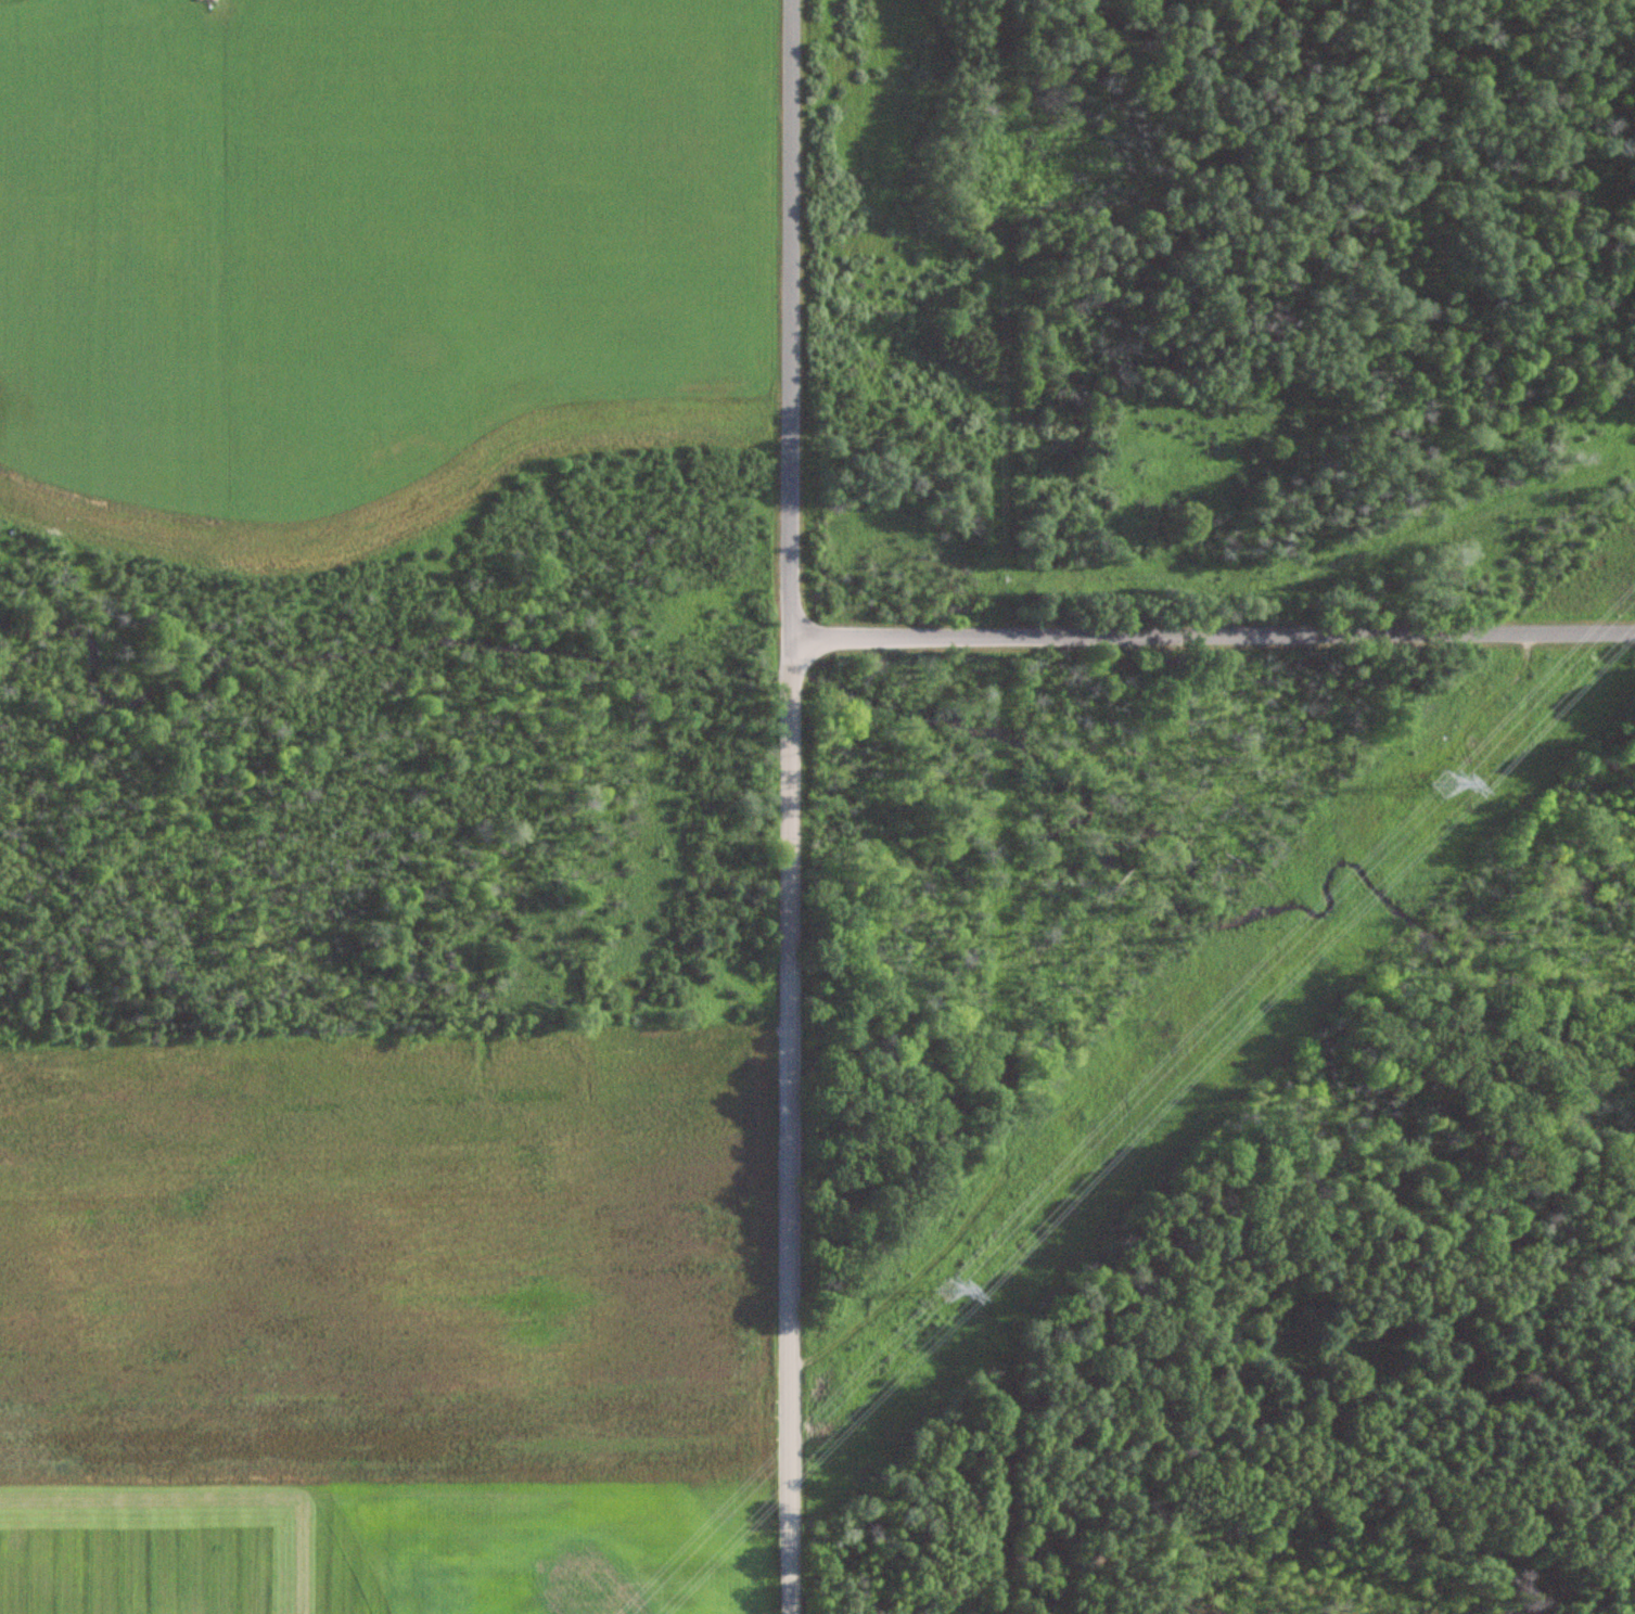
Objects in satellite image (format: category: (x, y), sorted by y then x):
road: (1212, 637)
power tower: (1446, 791)
road: (791, 806)
power tower: (949, 1296)

